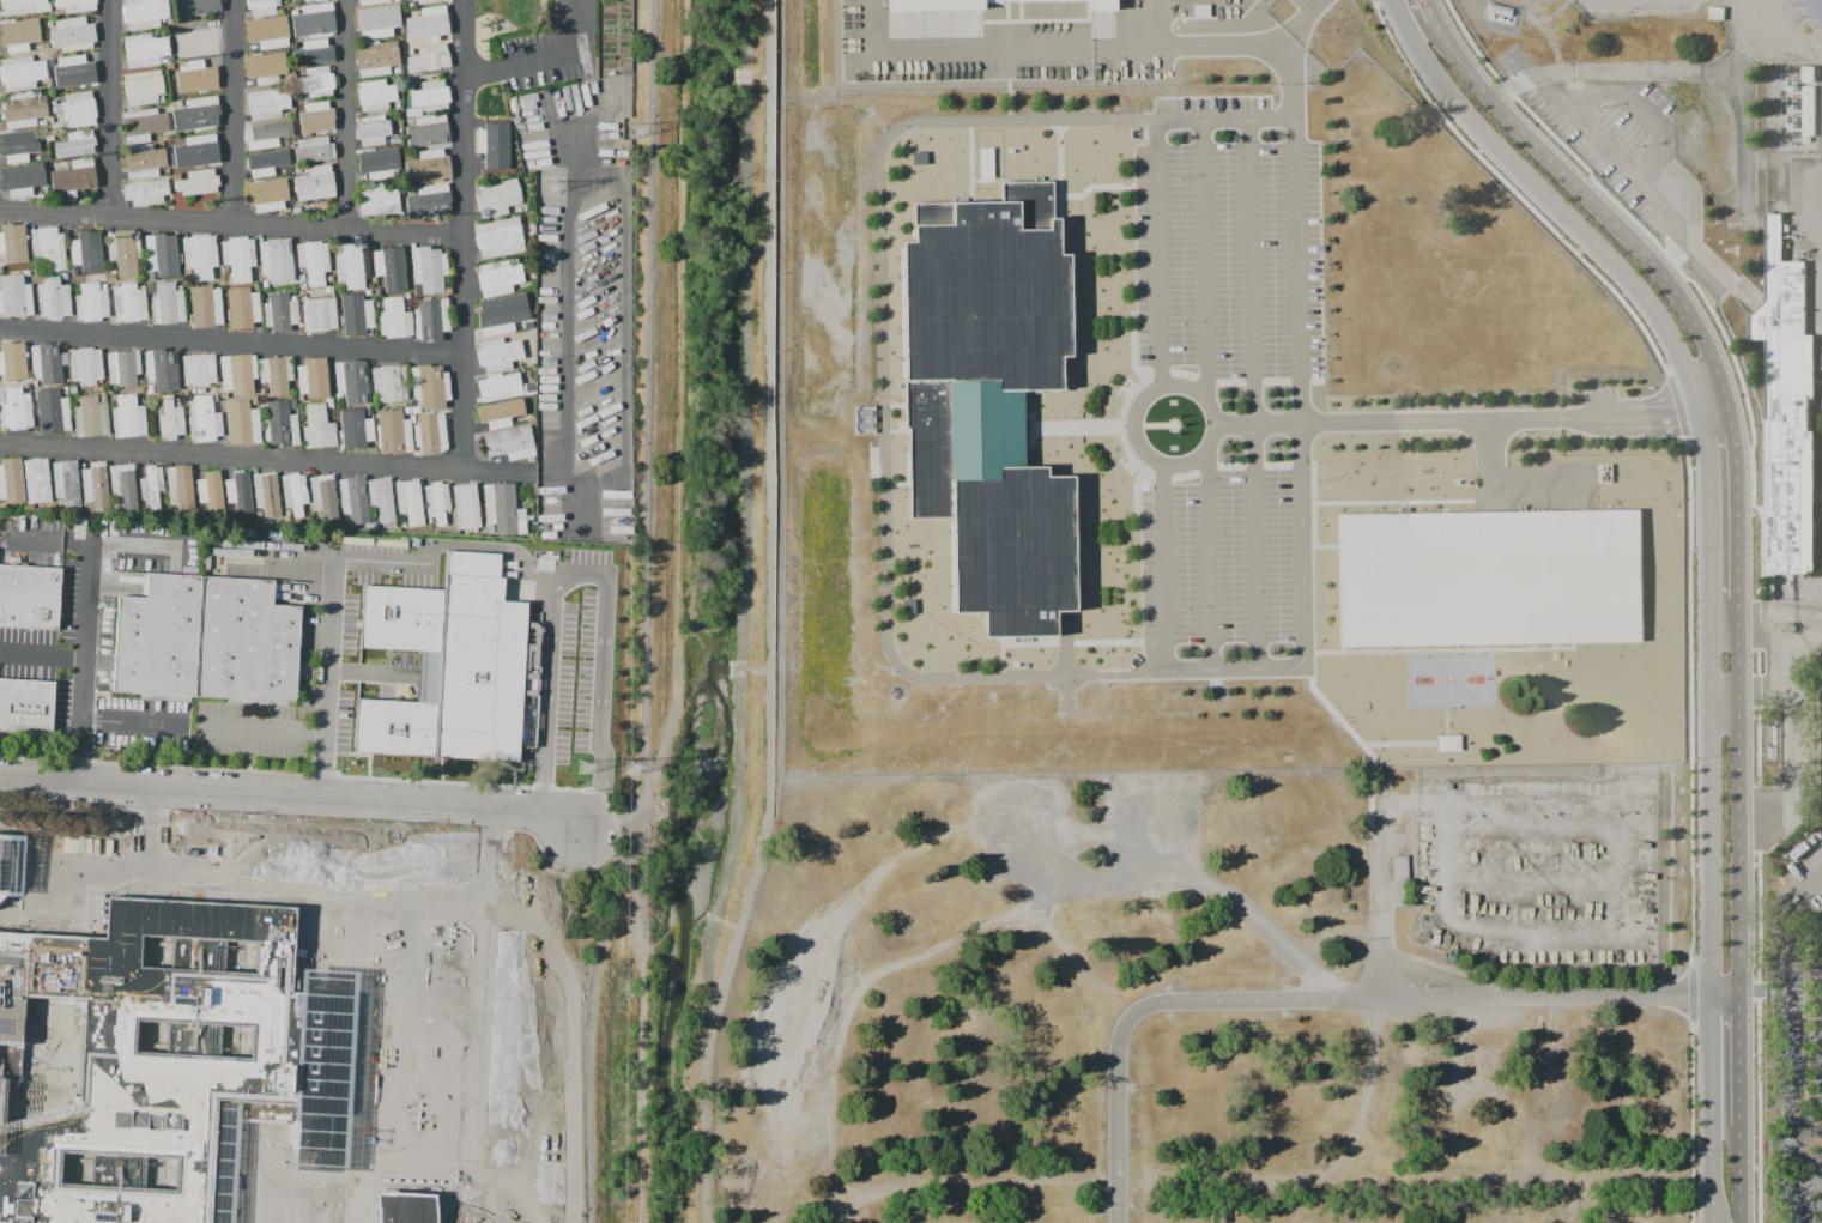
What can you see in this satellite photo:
building: (295, 0)
building: (319, 0)
building: (371, 1)
building: (425, 1)
parking lot: (1296, 2)
building: (410, 4)
building: (937, 4)
building: (75, 5)
building: (1100, 5)
building: (24, 6)
building: (1816, 6)
building: (195, 7)
building: (262, 7)
building: (144, 13)
building: (314, 20)
road: (1144, 22)
building: (49, 23)
building: (376, 23)
building: (432, 24)
building: (172, 28)
building: (397, 31)
road: (1779, 31)
building: (268, 32)
building: (22, 34)
building: (72, 34)
building: (198, 37)
road: (960, 43)
road: (1190, 43)
building: (144, 49)
building: (315, 52)
building: (411, 52)
road: (1289, 54)
road: (544, 56)
building: (377, 57)
building: (169, 60)
building: (429, 60)
building: (54, 63)
building: (265, 67)
building: (397, 71)
road: (1638, 71)
building: (78, 72)
building: (22, 73)
building: (196, 75)
building: (48, 81)
building: (319, 83)
building: (143, 87)
building: (411, 87)
building: (375, 96)
building: (430, 96)
building: (162, 99)
building: (177, 103)
building: (397, 104)
building: (264, 105)
road: (1642, 107)
building: (23, 108)
power substation: (1788, 108)
building: (1805, 108)
building: (78, 109)
road: (113, 110)
road: (237, 114)
building: (198, 115)
building: (320, 116)
road: (349, 116)
building: (50, 120)
building: (410, 121)
building: (42, 123)
building: (144, 125)
building: (371, 129)
building: (428, 132)
power tower: (636, 133)
building: (266, 134)
building: (55, 137)
building: (167, 137)
building: (395, 141)
building: (492, 141)
building: (286, 143)
building: (72, 146)
building: (19, 147)
building: (314, 150)
building: (195, 151)
building: (144, 162)
building: (266, 164)
building: (374, 165)
building: (428, 168)
building: (168, 170)
building: (297, 170)
road: (1634, 172)
building: (73, 177)
building: (22, 180)
building: (198, 182)
building: (315, 182)
power tower: (552, 188)
building: (145, 192)
building: (265, 195)
building: (497, 198)
building: (379, 199)
building: (429, 200)
building: (296, 210)
building: (517, 210)
road: (231, 226)
road: (462, 234)
building: (498, 237)
building: (13, 247)
building: (49, 248)
building: (86, 249)
building: (123, 252)
building: (162, 255)
building: (200, 255)
building: (238, 258)
building: (276, 260)
road: (1204, 260)
building: (314, 261)
building: (352, 264)
building: (388, 267)
building: (429, 270)
building: (111, 271)
building: (26, 273)
building: (73, 273)
building: (65, 276)
building: (152, 276)
building: (500, 277)
building: (533, 277)
building: (301, 278)
building: (340, 278)
building: (265, 283)
building: (302, 287)
building: (329, 289)
building: (255, 290)
building: (368, 293)
building: (14, 297)
building: (292, 297)
building: (53, 298)
building: (128, 302)
building: (407, 302)
building: (91, 303)
building: (167, 304)
building: (206, 305)
building: (533, 305)
building: (241, 309)
building: (280, 313)
building: (321, 314)
building: (359, 314)
building: (498, 316)
building: (394, 319)
building: (431, 319)
road: (624, 325)
road: (232, 343)
road: (567, 347)
building: (497, 355)
building: (532, 359)
building: (12, 361)
building: (46, 363)
building: (85, 365)
building: (123, 368)
building: (532, 368)
road: (1299, 368)
building: (163, 369)
building: (199, 369)
parking lot: (1221, 371)
building: (238, 373)
building: (276, 375)
building: (313, 377)
building: (351, 381)
building: (36, 382)
building: (389, 383)
building: (26, 386)
building: (430, 386)
building: (497, 386)
building: (139, 389)
building: (150, 389)
building: (72, 390)
building: (200, 390)
building: (262, 393)
parking lot: (1597, 394)
road: (1253, 395)
building: (224, 396)
building: (217, 398)
building: (187, 399)
building: (178, 400)
building: (256, 400)
building: (301, 400)
building: (527, 400)
road: (882, 400)
building: (329, 402)
building: (517, 404)
building: (989, 404)
building: (368, 407)
building: (14, 408)
building: (407, 410)
building: (417, 410)
building: (1784, 412)
building: (55, 414)
road: (1132, 414)
building: (91, 416)
building: (496, 416)
building: (533, 416)
building: (128, 417)
building: (412, 419)
building: (172, 420)
building: (204, 420)
road: (1472, 422)
building: (243, 423)
building: (280, 425)
building: (317, 426)
building: (357, 430)
building: (393, 432)
building: (430, 434)
building: (510, 443)
road: (234, 455)
road: (1490, 456)
building: (12, 480)
building: (36, 480)
building: (67, 484)
building: (96, 485)
building: (152, 485)
building: (123, 488)
building: (180, 488)
building: (208, 488)
building: (236, 489)
building: (295, 492)
building: (266, 494)
building: (323, 495)
building: (381, 500)
building: (353, 501)
road: (577, 502)
building: (410, 503)
building: (436, 503)
building: (466, 505)
building: (503, 510)
road: (36, 539)
road: (87, 544)
road: (145, 547)
road: (1761, 556)
road: (1706, 557)
road: (375, 559)
road: (1737, 559)
road: (1206, 564)
road: (535, 568)
building: (1489, 579)
building: (30, 598)
road: (644, 614)
road: (1779, 616)
road: (331, 623)
building: (1785, 626)
building: (206, 640)
road: (42, 653)
road: (83, 664)
building: (454, 667)
road: (363, 672)
park: (1448, 678)
road: (600, 683)
road: (547, 689)
road: (1766, 689)
road: (255, 702)
building: (26, 707)
road: (250, 709)
road: (231, 714)
road: (86, 720)
road: (133, 722)
road: (250, 728)
road: (1794, 728)
road: (260, 729)
parking lot: (1818, 732)
road: (248, 746)
road: (247, 762)
power tower: (585, 767)
power tower: (631, 769)
road: (291, 794)
road: (609, 816)
road: (151, 828)
road: (613, 843)
road: (496, 848)
building: (5, 865)
road: (322, 880)
road: (495, 912)
road: (1388, 956)
road: (1780, 967)
road: (1760, 991)
building: (11, 992)
road: (1414, 1000)
parking lot: (1814, 1013)
road: (494, 1021)
road: (535, 1035)
parking lot: (509, 1043)
building: (165, 1060)
road: (1780, 1071)
road: (485, 1077)
road: (1116, 1137)
road: (1776, 1149)
road: (1164, 1180)
road: (1796, 1180)
building: (407, 1212)

